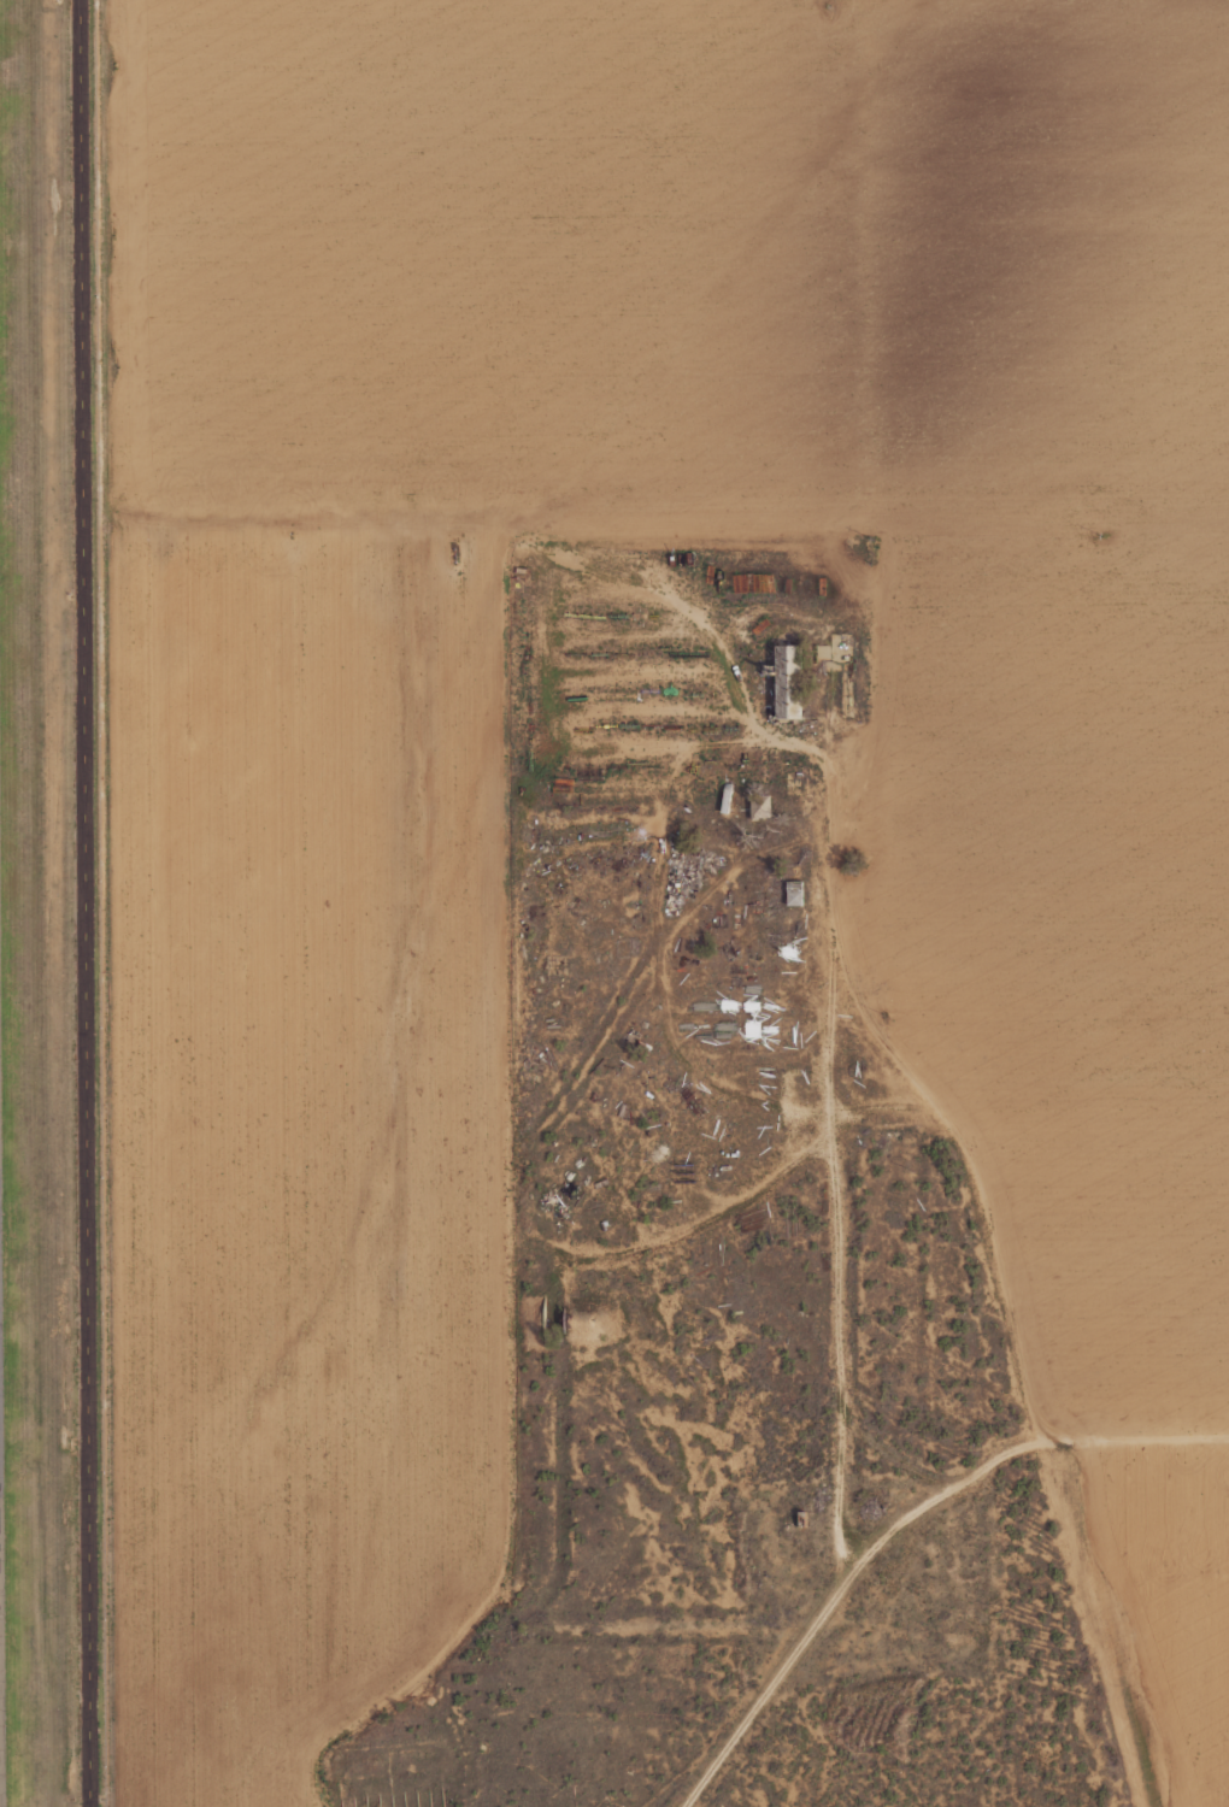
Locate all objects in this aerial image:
road: (499, 536)
building: (522, 554)
building: (687, 557)
building: (658, 558)
building: (670, 559)
building: (680, 559)
road: (917, 575)
road: (772, 610)
building: (765, 670)
building: (786, 682)
road: (588, 713)
road: (647, 747)
building: (725, 799)
building: (758, 806)
road: (730, 870)
building: (792, 893)
road: (83, 902)
airport: (47, 918)
road: (663, 978)
road: (951, 1129)
road: (831, 1170)
road: (765, 1178)
road: (770, 1683)

